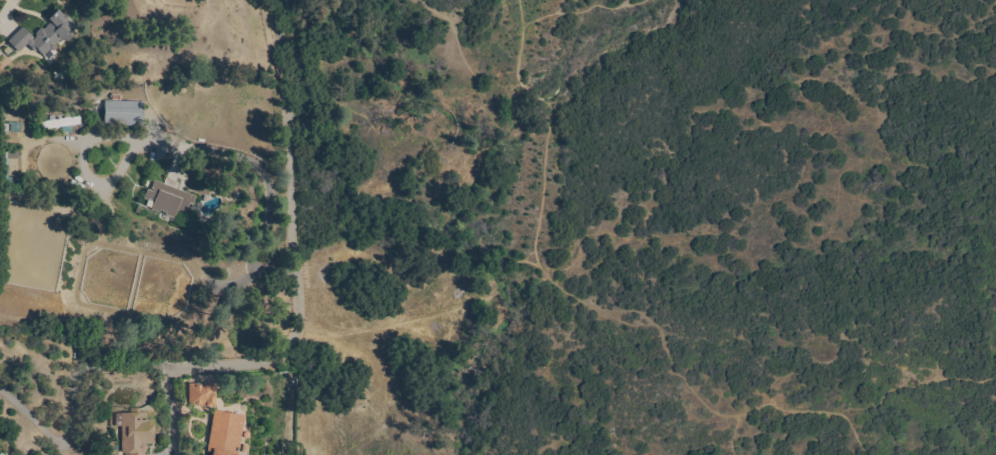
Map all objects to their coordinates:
road: (583, 10)
road: (8, 16)
building: (45, 36)
building: (124, 113)
building: (61, 124)
road: (268, 173)
building: (168, 198)
road: (296, 235)
road: (529, 262)
road: (593, 309)
road: (438, 315)
road: (172, 366)
road: (124, 368)
road: (912, 385)
building: (202, 395)
road: (167, 408)
building: (136, 432)
building: (225, 433)
road: (732, 434)
road: (60, 439)

